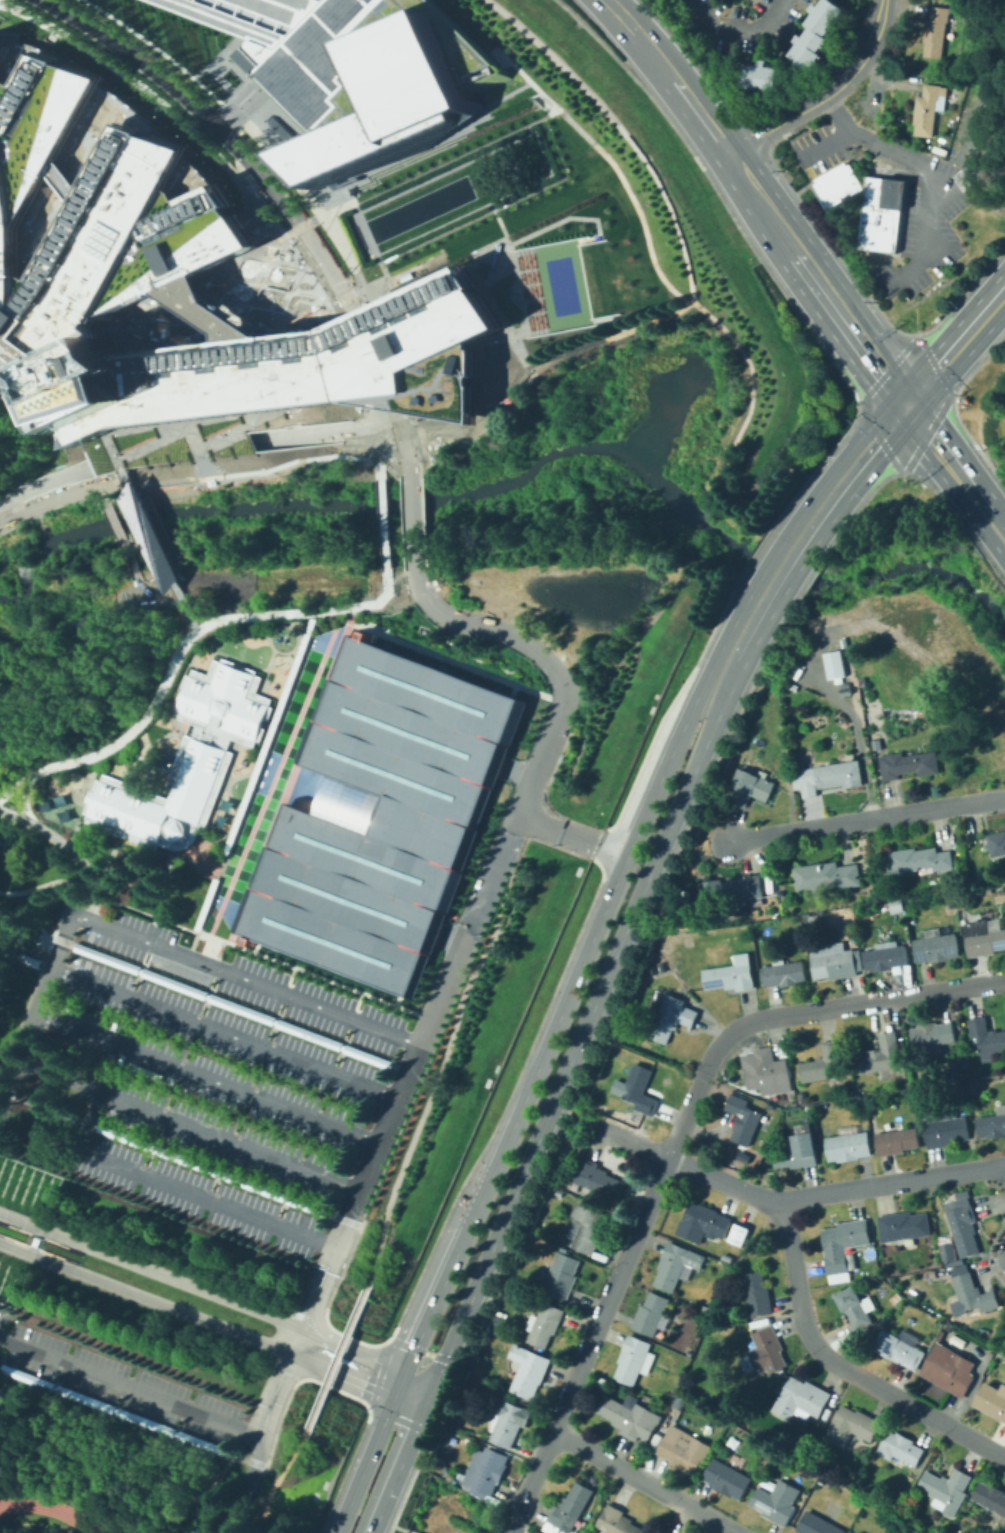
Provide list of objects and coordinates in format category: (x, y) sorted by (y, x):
road: (737, 30)
building: (936, 31)
building: (818, 32)
parking lot: (324, 48)
road: (669, 72)
building: (762, 75)
building: (357, 77)
road: (874, 82)
road: (825, 94)
road: (240, 105)
building: (929, 108)
road: (623, 130)
road: (223, 133)
road: (249, 134)
road: (194, 136)
road: (860, 136)
road: (822, 146)
road: (971, 150)
road: (551, 173)
building: (836, 185)
road: (776, 193)
street lamp: (595, 197)
street lamp: (588, 200)
street lamp: (581, 203)
road: (499, 206)
street lamp: (576, 206)
street lamp: (606, 207)
road: (335, 208)
street lamp: (568, 209)
road: (896, 210)
street lamp: (562, 212)
street lamp: (608, 212)
building: (879, 213)
street lamp: (555, 215)
street lamp: (548, 219)
road: (499, 222)
street lamp: (542, 222)
street lamp: (606, 222)
road: (298, 224)
street lamp: (535, 225)
street lamp: (607, 226)
street lamp: (529, 228)
road: (739, 230)
road: (922, 230)
street lamp: (522, 231)
street lamp: (515, 234)
street lamp: (509, 237)
road: (499, 247)
street lamp: (462, 258)
street lamp: (455, 262)
street lamp: (448, 265)
road: (844, 266)
street lamp: (441, 268)
street lamp: (435, 271)
street lamp: (429, 274)
road: (946, 274)
building: (179, 277)
road: (385, 277)
street lamp: (422, 277)
road: (813, 278)
street lamp: (416, 280)
street lamp: (409, 283)
park: (560, 285)
street lamp: (402, 286)
street lamp: (396, 289)
road: (488, 295)
road: (342, 297)
road: (705, 313)
road: (914, 317)
road: (609, 319)
road: (511, 333)
road: (574, 349)
road: (399, 359)
road: (373, 362)
road: (524, 362)
road: (347, 365)
road: (887, 368)
road: (908, 398)
traffic signals: (905, 403)
road: (367, 415)
road: (472, 418)
road: (398, 428)
road: (418, 429)
road: (324, 433)
road: (442, 435)
road: (163, 437)
road: (397, 449)
road: (376, 452)
road: (172, 453)
road: (418, 459)
road: (292, 461)
road: (408, 461)
road: (955, 469)
road: (45, 483)
road: (820, 483)
road: (101, 486)
road: (413, 520)
road: (422, 520)
road: (381, 522)
road: (767, 529)
building: (151, 538)
road: (156, 547)
road: (787, 557)
road: (530, 609)
road: (194, 630)
road: (744, 632)
road: (182, 647)
road: (455, 661)
building: (833, 664)
road: (512, 688)
building: (845, 692)
building: (268, 735)
road: (856, 736)
building: (876, 744)
building: (186, 759)
building: (909, 764)
road: (518, 769)
track: (289, 776)
building: (831, 776)
track: (271, 780)
building: (749, 788)
road: (22, 797)
building: (382, 815)
parking garage: (382, 815)
road: (513, 819)
road: (867, 819)
building: (996, 843)
road: (68, 849)
building: (921, 860)
building: (827, 876)
road: (47, 882)
building: (734, 890)
building: (1000, 896)
building: (204, 902)
building: (895, 905)
road: (64, 932)
road: (592, 935)
road: (450, 937)
building: (984, 937)
building: (0, 945)
building: (936, 946)
road: (569, 951)
road: (263, 955)
building: (20, 957)
building: (885, 958)
building: (835, 961)
building: (784, 973)
road: (36, 974)
building: (731, 975)
road: (255, 981)
road: (461, 989)
road: (42, 991)
building: (235, 1005)
road: (797, 1014)
building: (672, 1018)
road: (584, 1025)
road: (222, 1034)
building: (933, 1035)
building: (986, 1036)
road: (17, 1059)
building: (883, 1059)
building: (822, 1063)
parking lot: (209, 1072)
building: (766, 1072)
road: (206, 1079)
building: (640, 1089)
road: (17, 1096)
building: (57, 1110)
road: (57, 1111)
road: (572, 1117)
building: (743, 1120)
road: (89, 1122)
building: (992, 1124)
road: (188, 1125)
building: (946, 1129)
building: (897, 1141)
building: (848, 1145)
building: (796, 1152)
flagpole: (1, 1162)
flagpole: (11, 1166)
flagpole: (21, 1169)
road: (216, 1170)
building: (216, 1171)
flagpole: (30, 1173)
flagpole: (8, 1174)
flagpole: (40, 1177)
flagpole: (18, 1178)
building: (597, 1179)
flagpole: (49, 1180)
flagpole: (27, 1181)
flagpole: (5, 1182)
flagpole: (15, 1185)
flagpole: (37, 1185)
road: (177, 1188)
flagpole: (24, 1189)
flagpole: (46, 1189)
flagpole: (2, 1190)
flagpole: (34, 1193)
flagpole: (11, 1194)
road: (357, 1195)
flagpole: (43, 1196)
flagpole: (21, 1198)
flagpole: (30, 1201)
road: (793, 1201)
flagpole: (40, 1205)
road: (345, 1219)
building: (703, 1222)
building: (963, 1223)
building: (589, 1227)
building: (903, 1228)
building: (739, 1235)
building: (34, 1241)
building: (844, 1247)
building: (950, 1255)
building: (728, 1257)
building: (676, 1265)
flagpole: (5, 1269)
road: (77, 1269)
flagpole: (15, 1272)
building: (563, 1276)
flagpole: (2, 1277)
flagpole: (12, 1281)
flagpole: (9, 1288)
road: (202, 1288)
building: (912, 1291)
road: (320, 1292)
road: (437, 1292)
building: (758, 1293)
building: (973, 1295)
flagpole: (5, 1297)
building: (895, 1298)
road: (325, 1305)
road: (174, 1306)
building: (856, 1307)
parking lot: (4, 1316)
building: (653, 1316)
building: (499, 1322)
building: (545, 1324)
street lamp: (3, 1326)
road: (395, 1326)
road: (590, 1344)
building: (900, 1348)
street lamp: (68, 1350)
road: (294, 1352)
building: (764, 1352)
road: (338, 1358)
building: (634, 1360)
road: (844, 1368)
traffic signals: (404, 1369)
building: (949, 1369)
road: (377, 1371)
building: (530, 1371)
street lamp: (128, 1373)
road: (3, 1376)
road: (418, 1376)
parking lot: (117, 1382)
road: (398, 1382)
road: (328, 1384)
traffic signals: (433, 1384)
street lamp: (189, 1395)
traffic signals: (393, 1395)
building: (801, 1400)
road: (408, 1401)
building: (992, 1401)
building: (680, 1402)
road: (175, 1405)
street lamp: (248, 1407)
traffic signals: (423, 1407)
building: (114, 1409)
road: (114, 1410)
building: (160, 1410)
road: (367, 1412)
building: (631, 1417)
building: (507, 1421)
building: (852, 1426)
building: (901, 1448)
building: (685, 1450)
road: (229, 1454)
road: (401, 1458)
road: (116, 1462)
road: (364, 1463)
road: (259, 1464)
building: (487, 1472)
road: (342, 1477)
building: (728, 1478)
road: (276, 1481)
road: (645, 1482)
building: (945, 1489)
building: (991, 1499)
building: (776, 1502)
track: (49, 1510)
building: (568, 1510)
building: (618, 1521)
building: (817, 1524)
road: (395, 1525)
building: (662, 1531)
building: (665, 1531)
road: (511, 1532)
road: (513, 1532)

